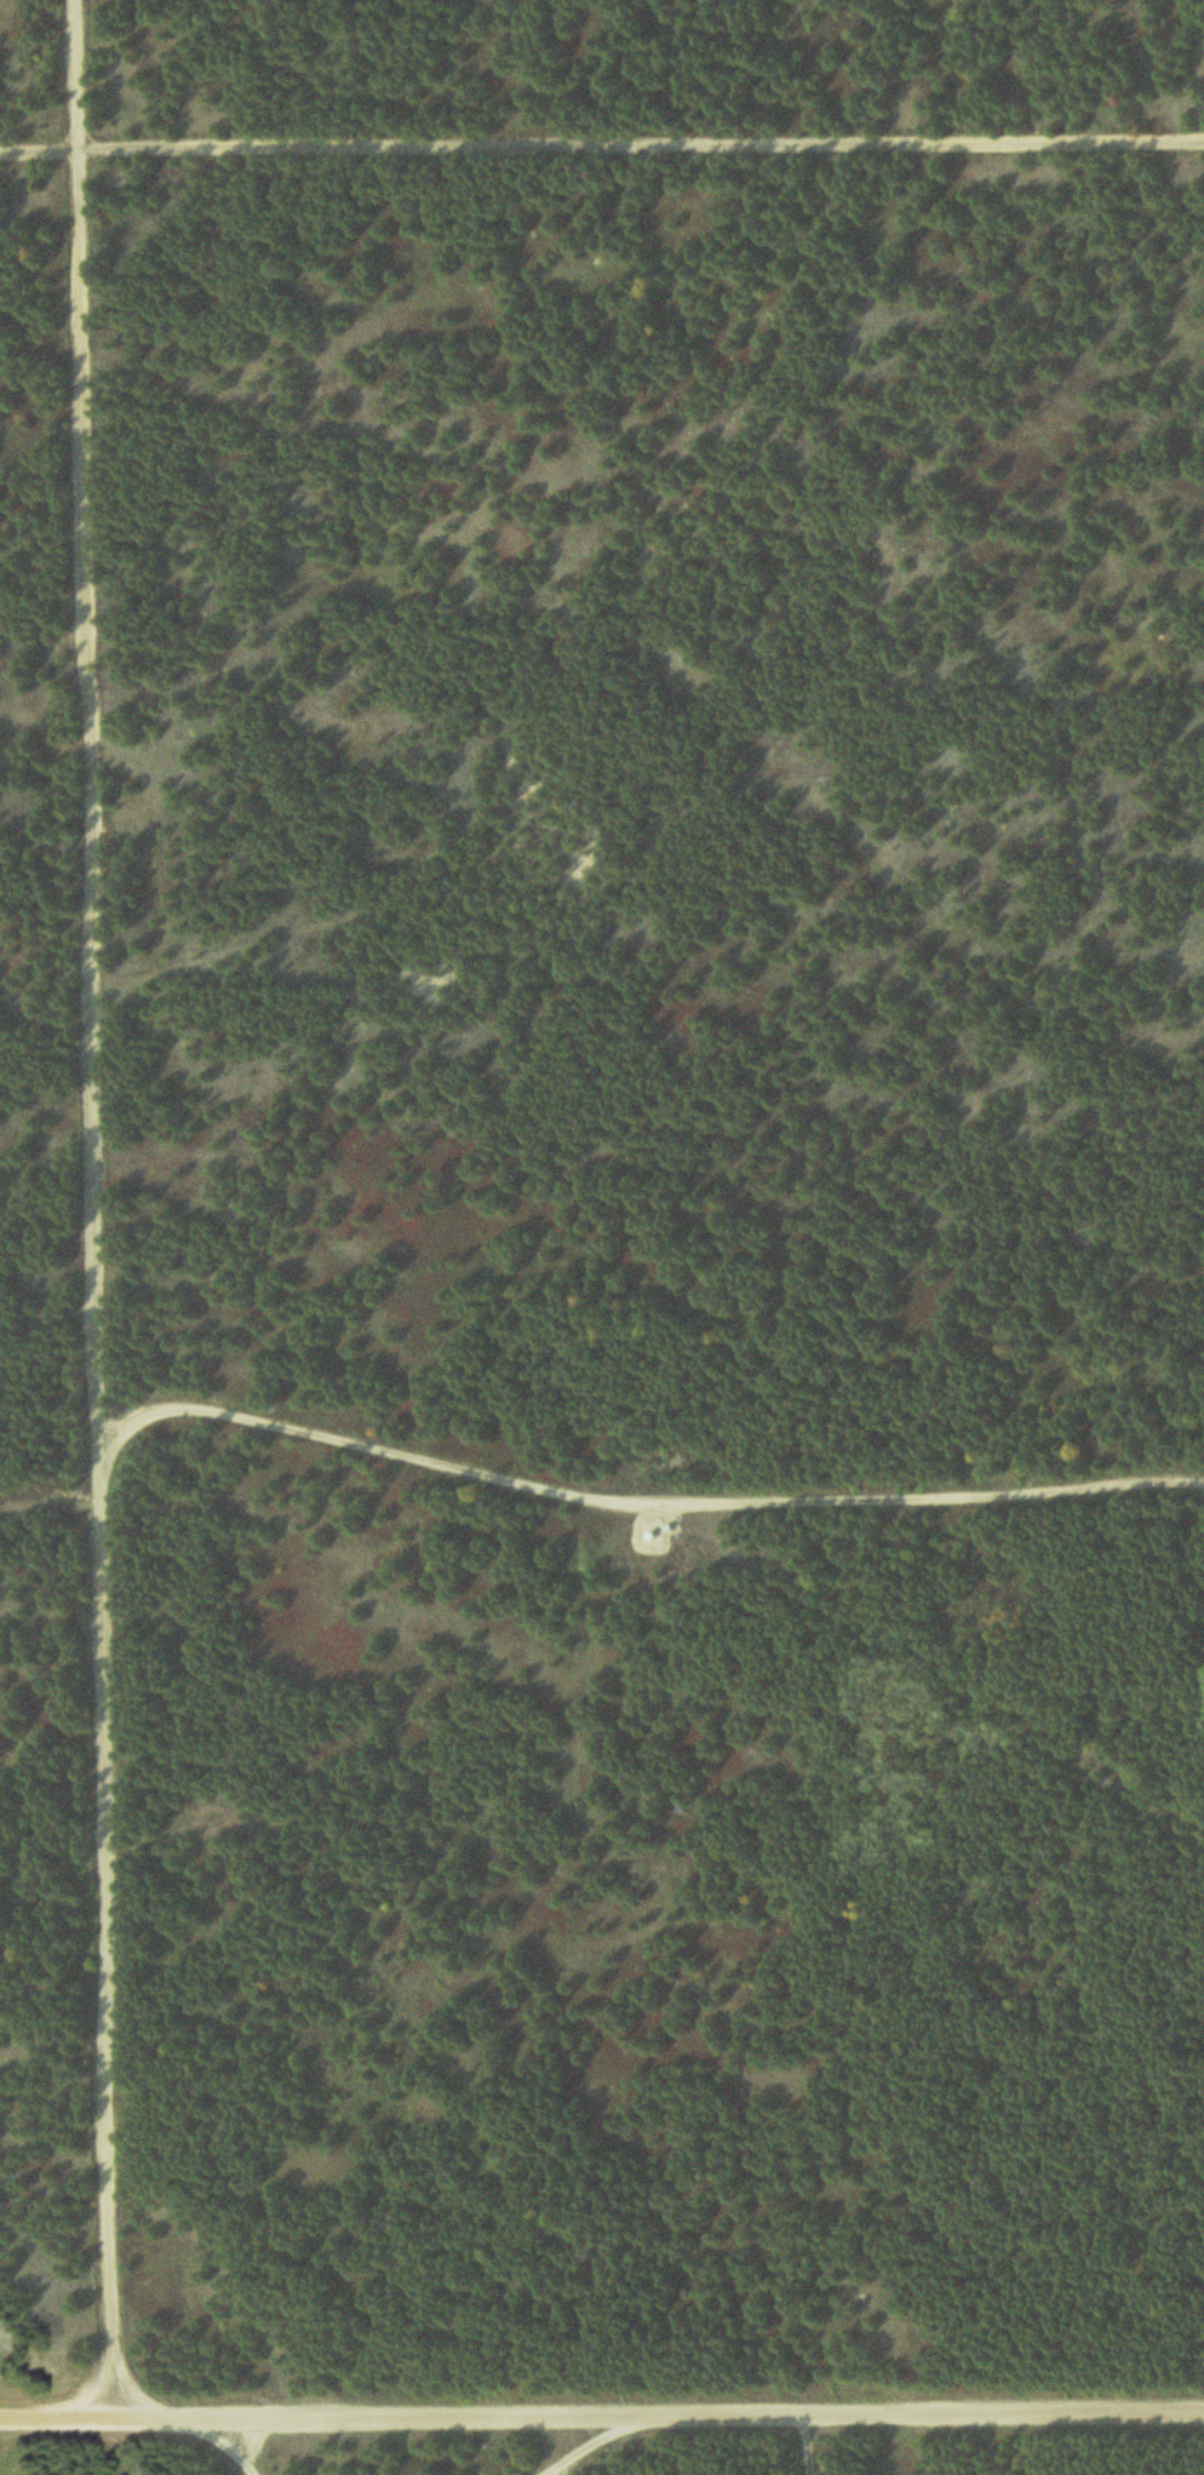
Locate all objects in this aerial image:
road: (602, 141)
road: (94, 1213)
road: (629, 1491)
road: (602, 2412)
road: (805, 2441)
road: (606, 2444)
road: (234, 2448)

